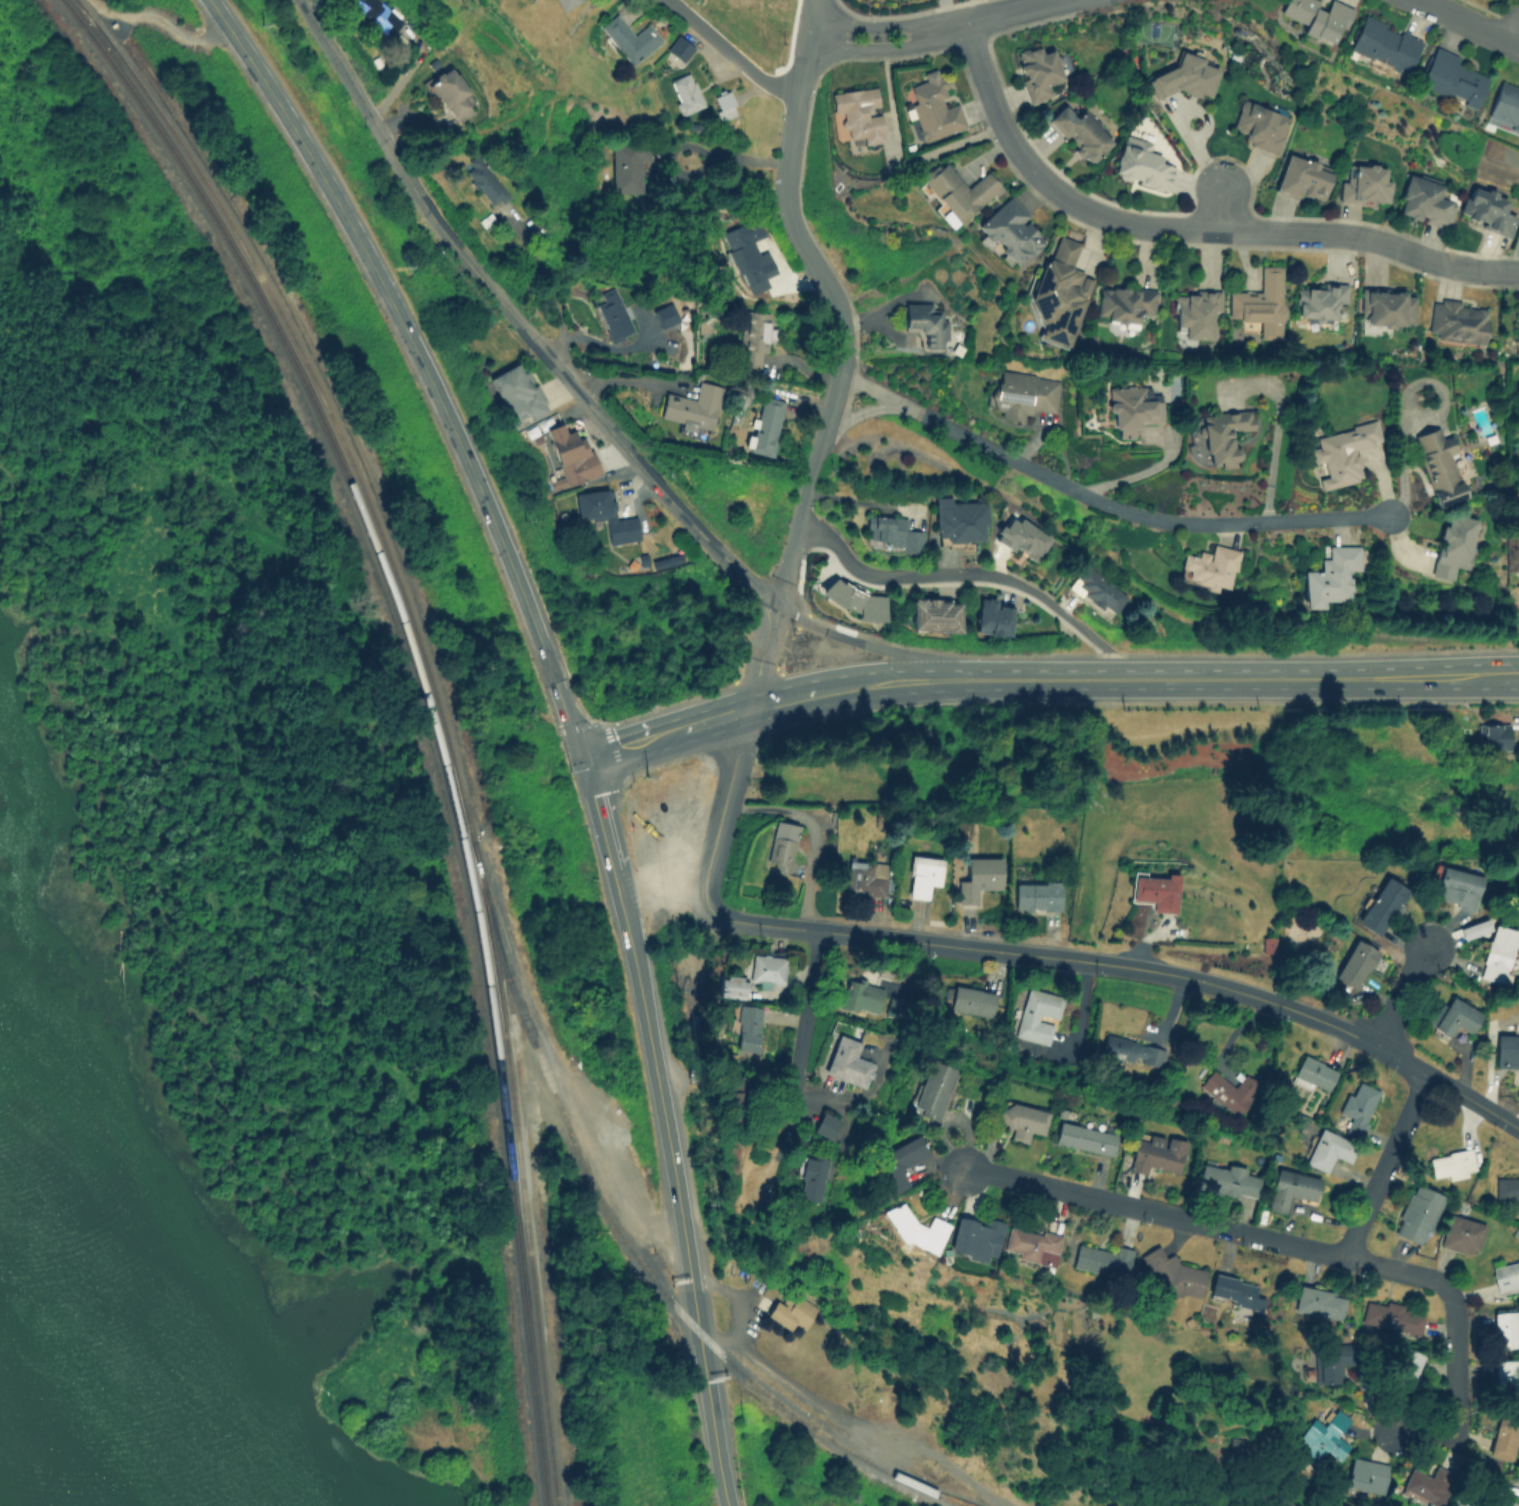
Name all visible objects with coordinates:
building: (565, 3)
building: (379, 14)
building: (1317, 17)
road: (1511, 20)
road: (1469, 22)
power tower: (261, 24)
road: (940, 29)
building: (629, 38)
building: (1382, 47)
building: (679, 49)
road: (729, 55)
building: (1036, 71)
building: (1182, 76)
building: (1451, 77)
building: (450, 92)
building: (685, 92)
building: (721, 104)
building: (933, 106)
building: (1504, 108)
building: (859, 112)
building: (1260, 124)
building: (1080, 132)
road: (697, 149)
building: (1141, 163)
building: (625, 165)
building: (1301, 176)
building: (486, 181)
building: (1363, 184)
building: (957, 191)
building: (1423, 201)
building: (1486, 208)
road: (792, 223)
road: (1192, 227)
building: (1010, 231)
building: (747, 250)
power tower: (405, 266)
road: (547, 287)
building: (1059, 294)
building: (1319, 300)
building: (1261, 302)
building: (1124, 303)
building: (1387, 308)
building: (1195, 311)
building: (612, 314)
building: (665, 316)
road: (516, 318)
building: (1457, 320)
building: (926, 321)
building: (1517, 327)
building: (753, 337)
road: (616, 348)
road: (422, 365)
road: (630, 378)
building: (517, 392)
building: (1022, 394)
building: (693, 406)
building: (1132, 408)
road: (863, 413)
building: (765, 425)
building: (1219, 435)
road: (1274, 435)
building: (1342, 452)
building: (569, 456)
building: (1438, 465)
road: (1141, 471)
road: (810, 478)
road: (1100, 502)
building: (605, 514)
building: (960, 520)
building: (892, 532)
building: (1021, 537)
building: (1451, 544)
road: (785, 563)
building: (1207, 566)
road: (970, 573)
building: (1329, 575)
building: (1097, 589)
building: (856, 600)
building: (932, 613)
building: (991, 616)
road: (878, 647)
road: (760, 656)
road: (1253, 678)
road: (866, 684)
railway: (428, 710)
railway: (438, 711)
road: (664, 733)
building: (1493, 739)
traffic signals: (581, 758)
power tower: (646, 776)
road: (724, 803)
road: (811, 829)
building: (780, 845)
building: (922, 875)
building: (866, 877)
building: (979, 878)
building: (1456, 887)
building: (1155, 890)
building: (1036, 895)
building: (1382, 904)
building: (1474, 928)
building: (1268, 945)
road: (1073, 953)
building: (1497, 953)
building: (1354, 963)
building: (766, 968)
building: (729, 985)
road: (1402, 993)
building: (859, 994)
building: (971, 1000)
road: (809, 1002)
building: (893, 1006)
building: (1036, 1015)
building: (1455, 1016)
building: (747, 1022)
road: (650, 1042)
building: (1131, 1050)
building: (1506, 1050)
building: (847, 1062)
building: (1313, 1074)
building: (930, 1089)
building: (740, 1090)
building: (1229, 1091)
road: (1473, 1100)
building: (1358, 1106)
building: (1021, 1119)
building: (826, 1124)
building: (1084, 1137)
building: (1328, 1149)
building: (1155, 1153)
building: (899, 1161)
road: (1385, 1163)
building: (1452, 1163)
building: (811, 1177)
building: (1225, 1178)
building: (1290, 1188)
building: (1506, 1188)
building: (1416, 1213)
road: (1214, 1224)
building: (914, 1227)
building: (1461, 1234)
building: (975, 1236)
building: (1032, 1244)
railway: (628, 1246)
building: (1100, 1259)
building: (1171, 1273)
building: (1506, 1276)
building: (1231, 1289)
road: (736, 1298)
building: (1317, 1303)
building: (791, 1310)
building: (1391, 1315)
building: (1504, 1327)
building: (1331, 1361)
building: (1406, 1364)
road: (1455, 1365)
building: (1504, 1376)
road: (711, 1418)
road: (851, 1418)
building: (1323, 1436)
road: (1422, 1436)
building: (1501, 1439)
building: (1364, 1474)
building: (1423, 1487)
building: (1475, 1498)

